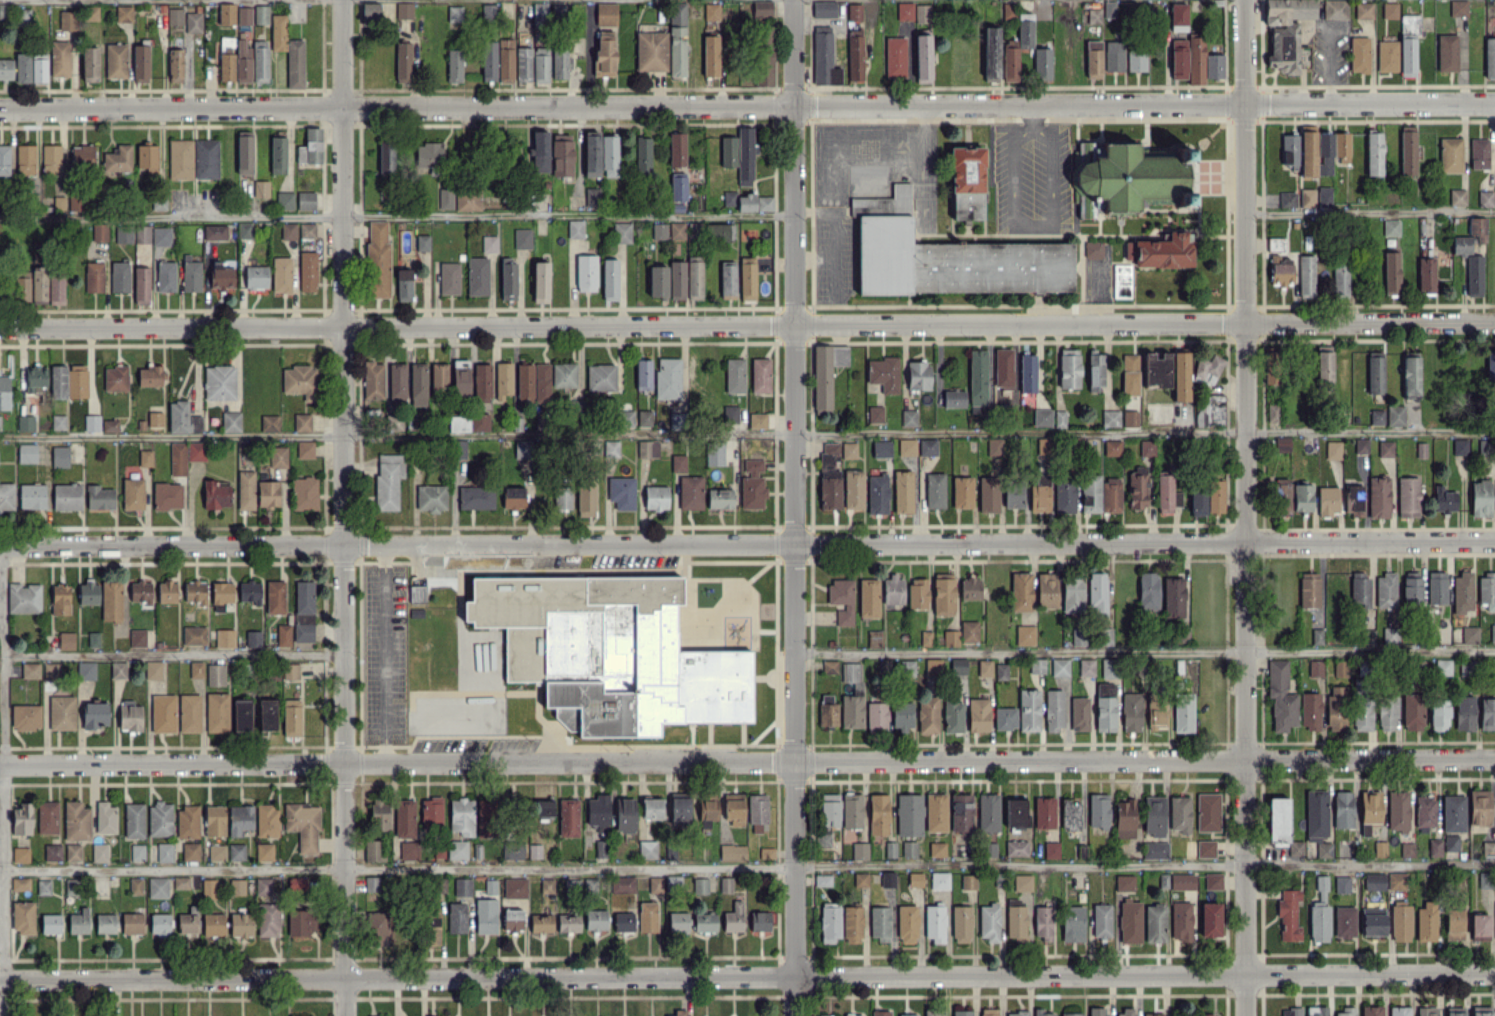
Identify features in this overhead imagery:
building: (1489, 57)
road: (747, 106)
road: (1029, 119)
building: (1479, 153)
building: (1127, 169)
building: (1485, 198)
road: (1369, 211)
road: (396, 215)
building: (1477, 228)
road: (1032, 229)
building: (1461, 245)
building: (1474, 275)
road: (747, 324)
building: (1490, 365)
road: (747, 434)
building: (1459, 446)
building: (1480, 498)
road: (343, 507)
road: (793, 507)
road: (1245, 508)
road: (747, 543)
building: (1486, 590)
building: (1462, 592)
road: (0, 617)
building: (1492, 632)
building: (1469, 634)
building: (590, 646)
road: (1144, 652)
road: (173, 654)
road: (383, 654)
building: (1468, 667)
building: (1490, 667)
building: (1463, 713)
building: (1487, 713)
road: (747, 761)
road: (1, 780)
building: (1479, 807)
building: (1453, 813)
building: (1450, 842)
building: (1488, 849)
road: (748, 864)
building: (1485, 879)
building: (1494, 911)
building: (1453, 924)
building: (1479, 926)
road: (747, 976)
building: (1454, 1011)
building: (1481, 1011)

